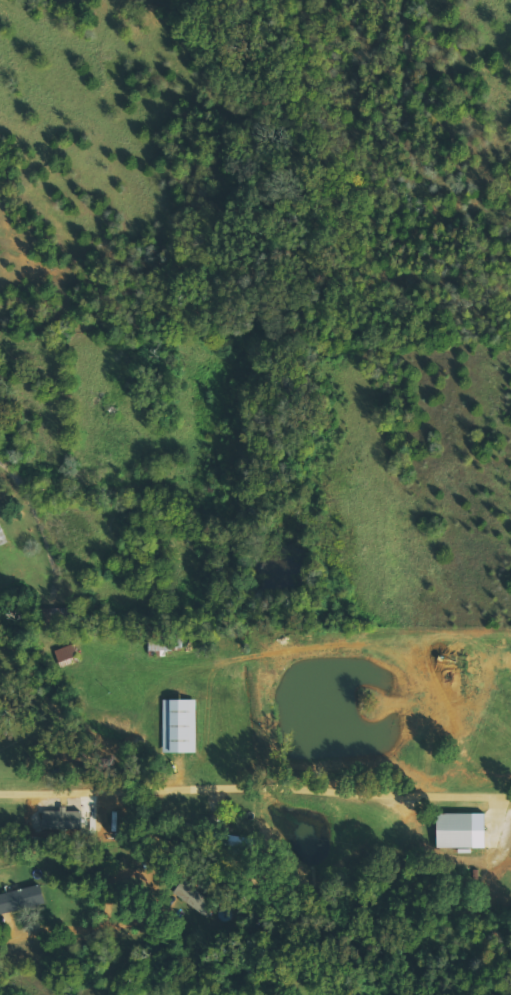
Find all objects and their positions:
building: (2, 534)
building: (66, 655)
building: (187, 733)
road: (255, 789)
building: (62, 821)
building: (459, 830)
building: (238, 842)
building: (193, 898)
building: (21, 899)

